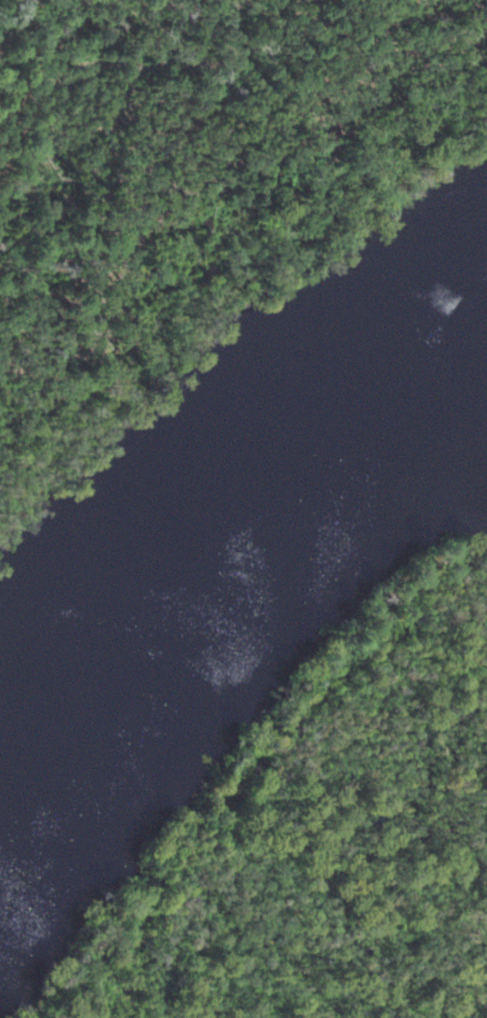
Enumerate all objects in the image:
road: (3, 122)
river: (231, 521)

